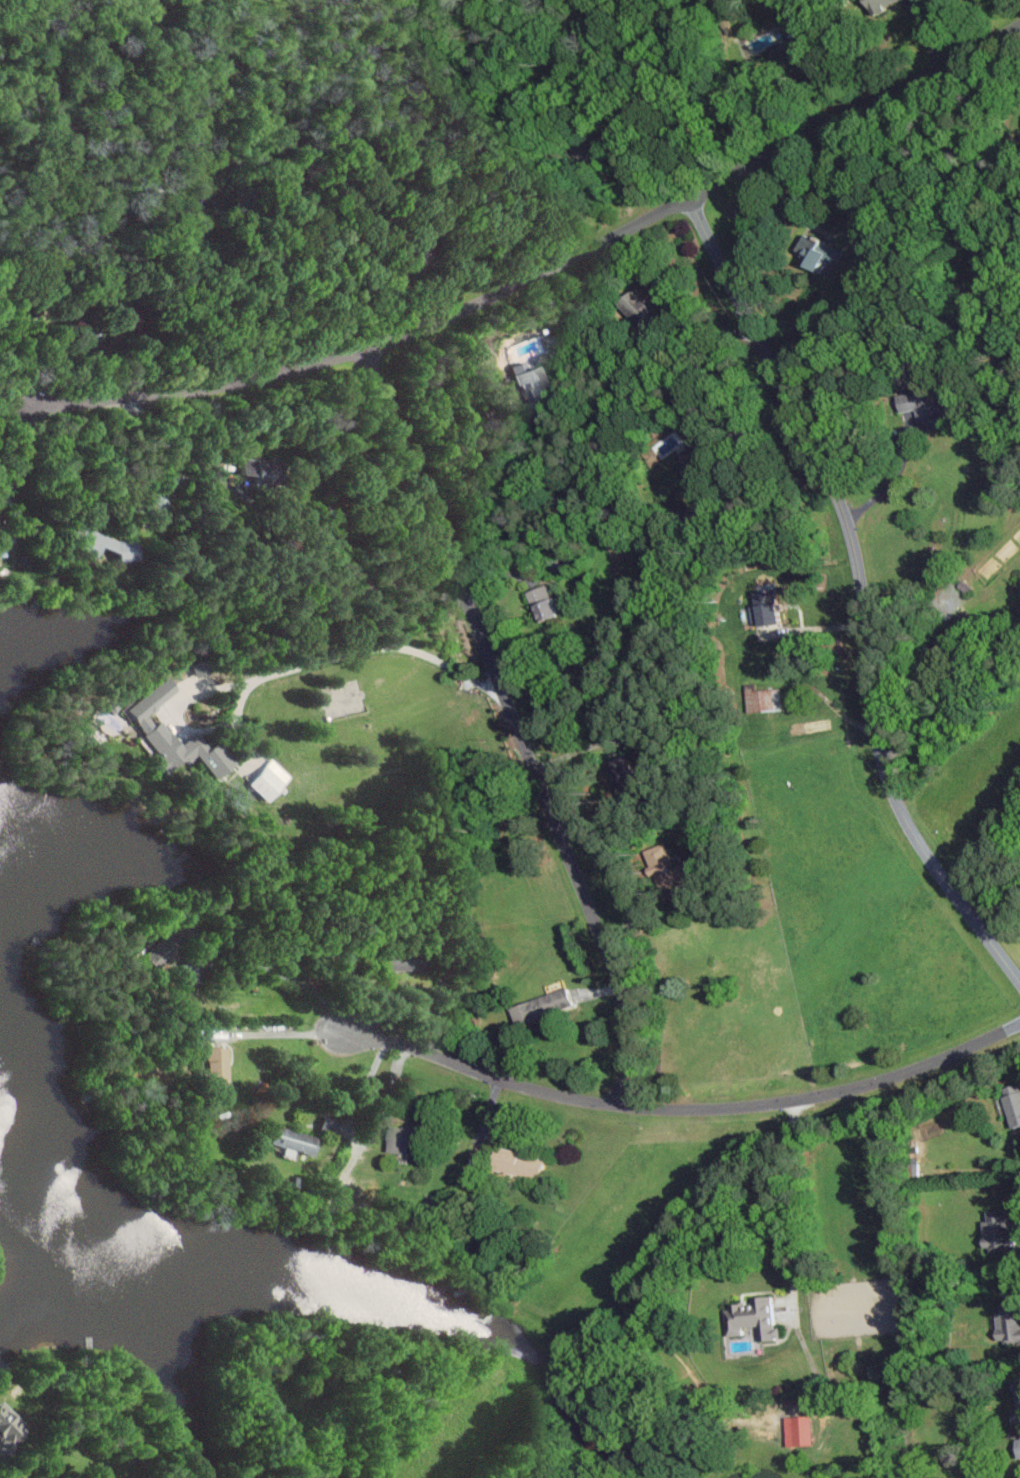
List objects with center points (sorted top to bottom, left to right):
building: (878, 5)
river: (58, 44)
road: (818, 72)
building: (815, 252)
road: (540, 272)
building: (363, 356)
building: (529, 387)
building: (922, 406)
road: (11, 433)
road: (892, 480)
road: (756, 488)
road: (507, 500)
road: (282, 522)
building: (97, 542)
road: (860, 592)
building: (541, 601)
building: (761, 606)
road: (812, 627)
road: (373, 648)
building: (758, 698)
road: (513, 723)
building: (151, 730)
road: (583, 748)
building: (267, 779)
building: (659, 864)
road: (228, 958)
road: (438, 1006)
building: (538, 1006)
road: (282, 1032)
building: (211, 1067)
building: (1011, 1103)
road: (682, 1108)
building: (326, 1122)
building: (288, 1139)
building: (398, 1139)
road: (354, 1141)
building: (513, 1162)
road: (767, 1194)
building: (993, 1232)
building: (750, 1317)
building: (1006, 1322)
building: (795, 1430)
building: (9, 1431)
building: (1017, 1447)
building: (41, 1477)

